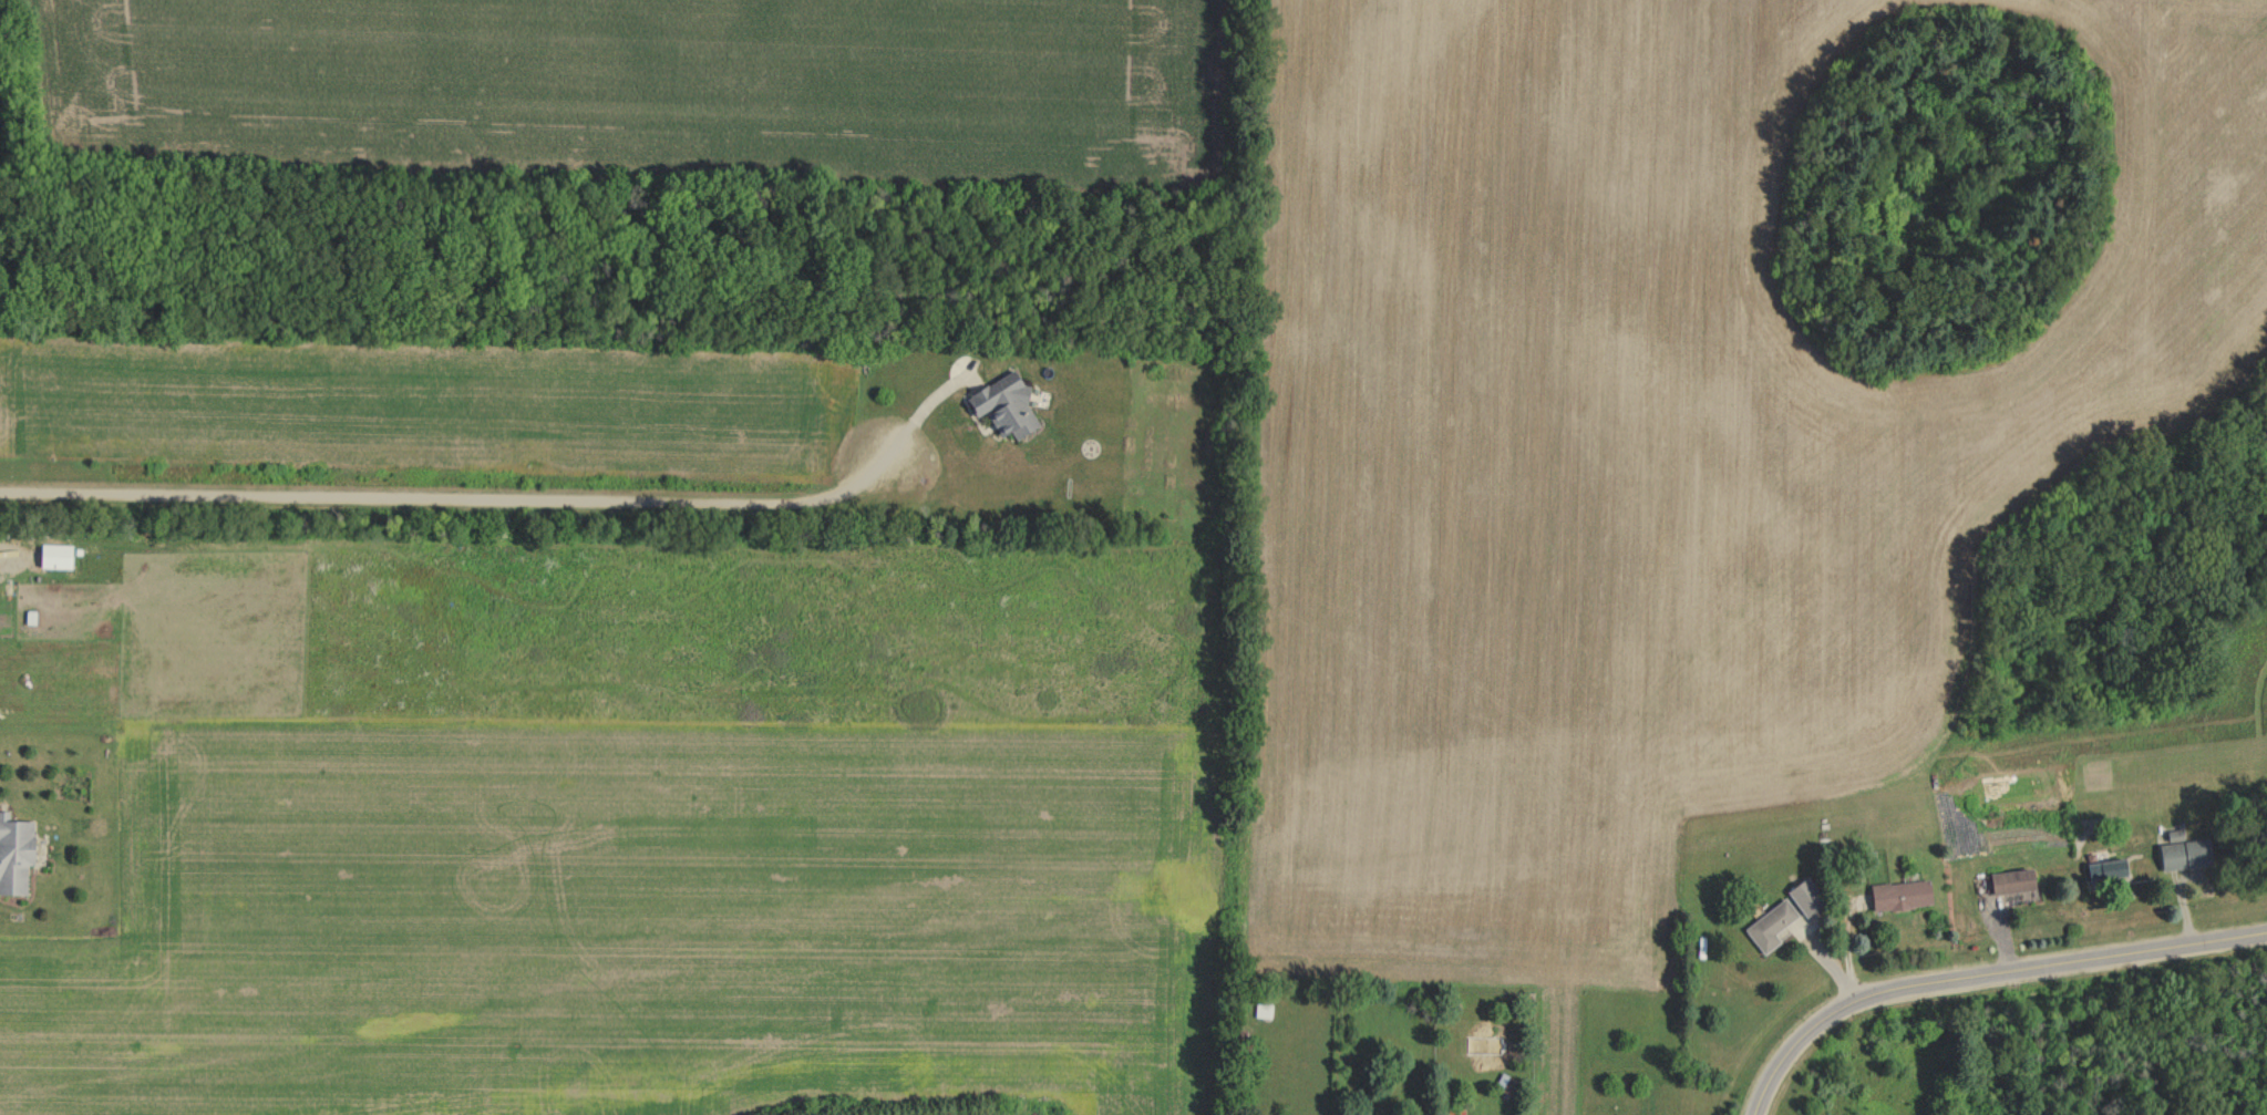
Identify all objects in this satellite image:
building: (1009, 404)
road: (919, 414)
road: (449, 497)
building: (17, 853)
building: (2106, 866)
building: (2013, 881)
building: (1903, 895)
road: (1980, 972)
building: (1269, 1011)

